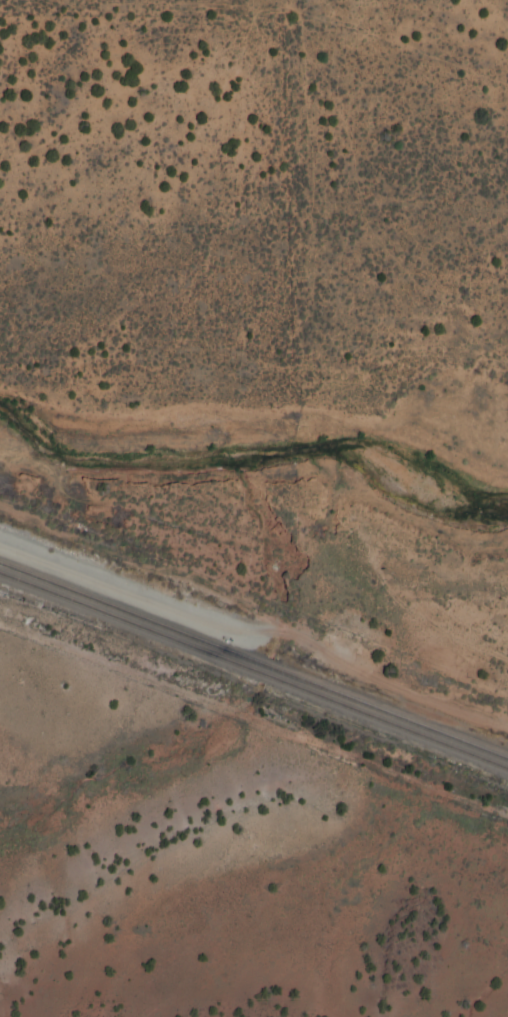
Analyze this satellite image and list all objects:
railway: (254, 659)
railway: (254, 670)

